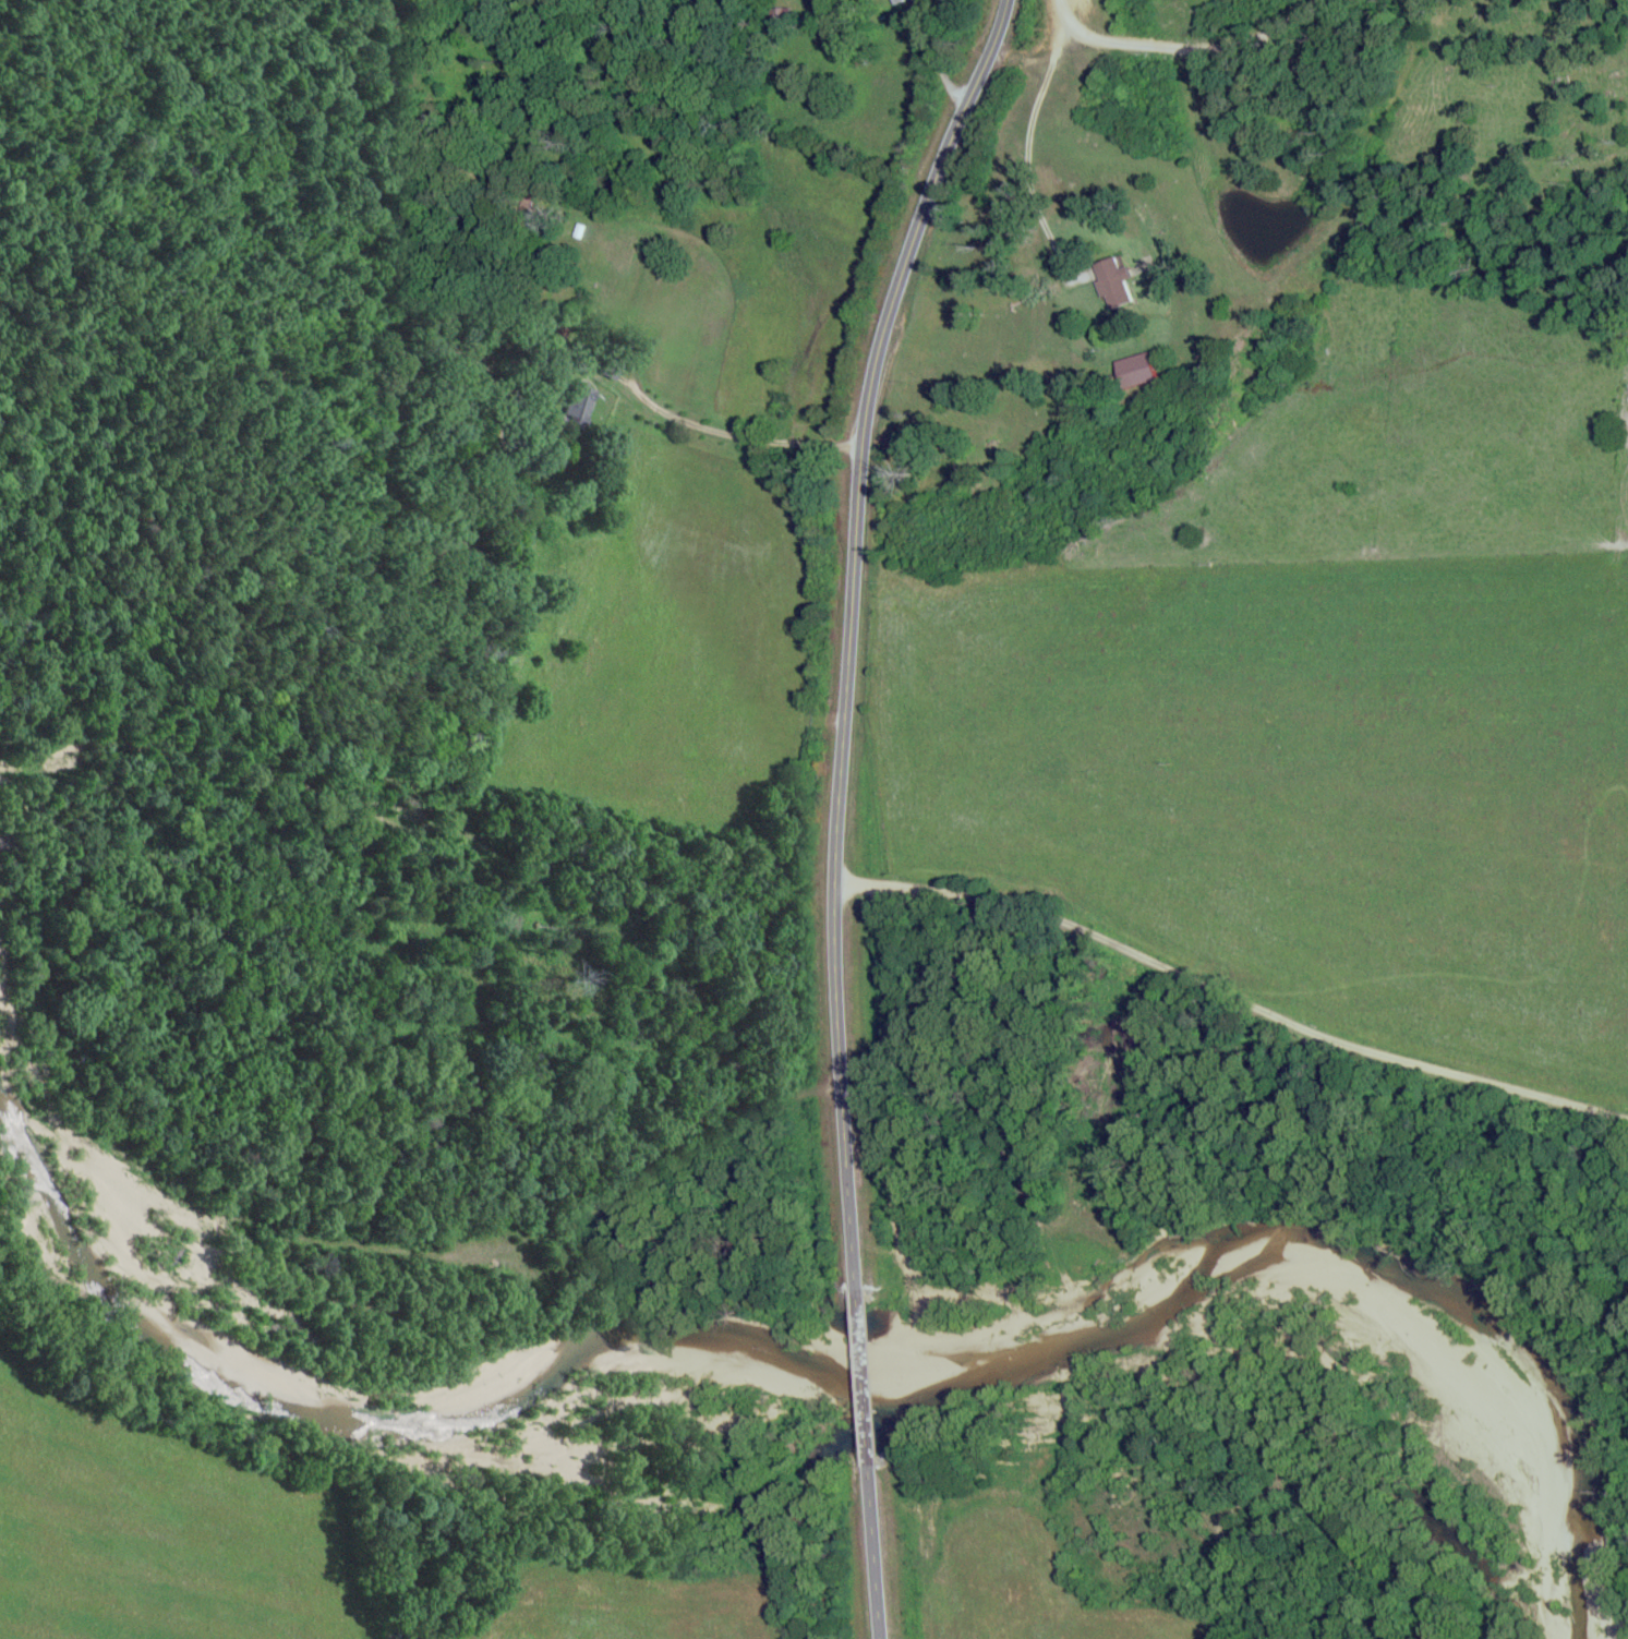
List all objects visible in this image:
building: (894, 1)
road: (1197, 50)
road: (1047, 58)
building: (1108, 282)
building: (582, 402)
road: (847, 630)
road: (877, 940)
road: (1231, 1001)
road: (867, 1376)
road: (881, 1553)
road: (1235, 1590)

